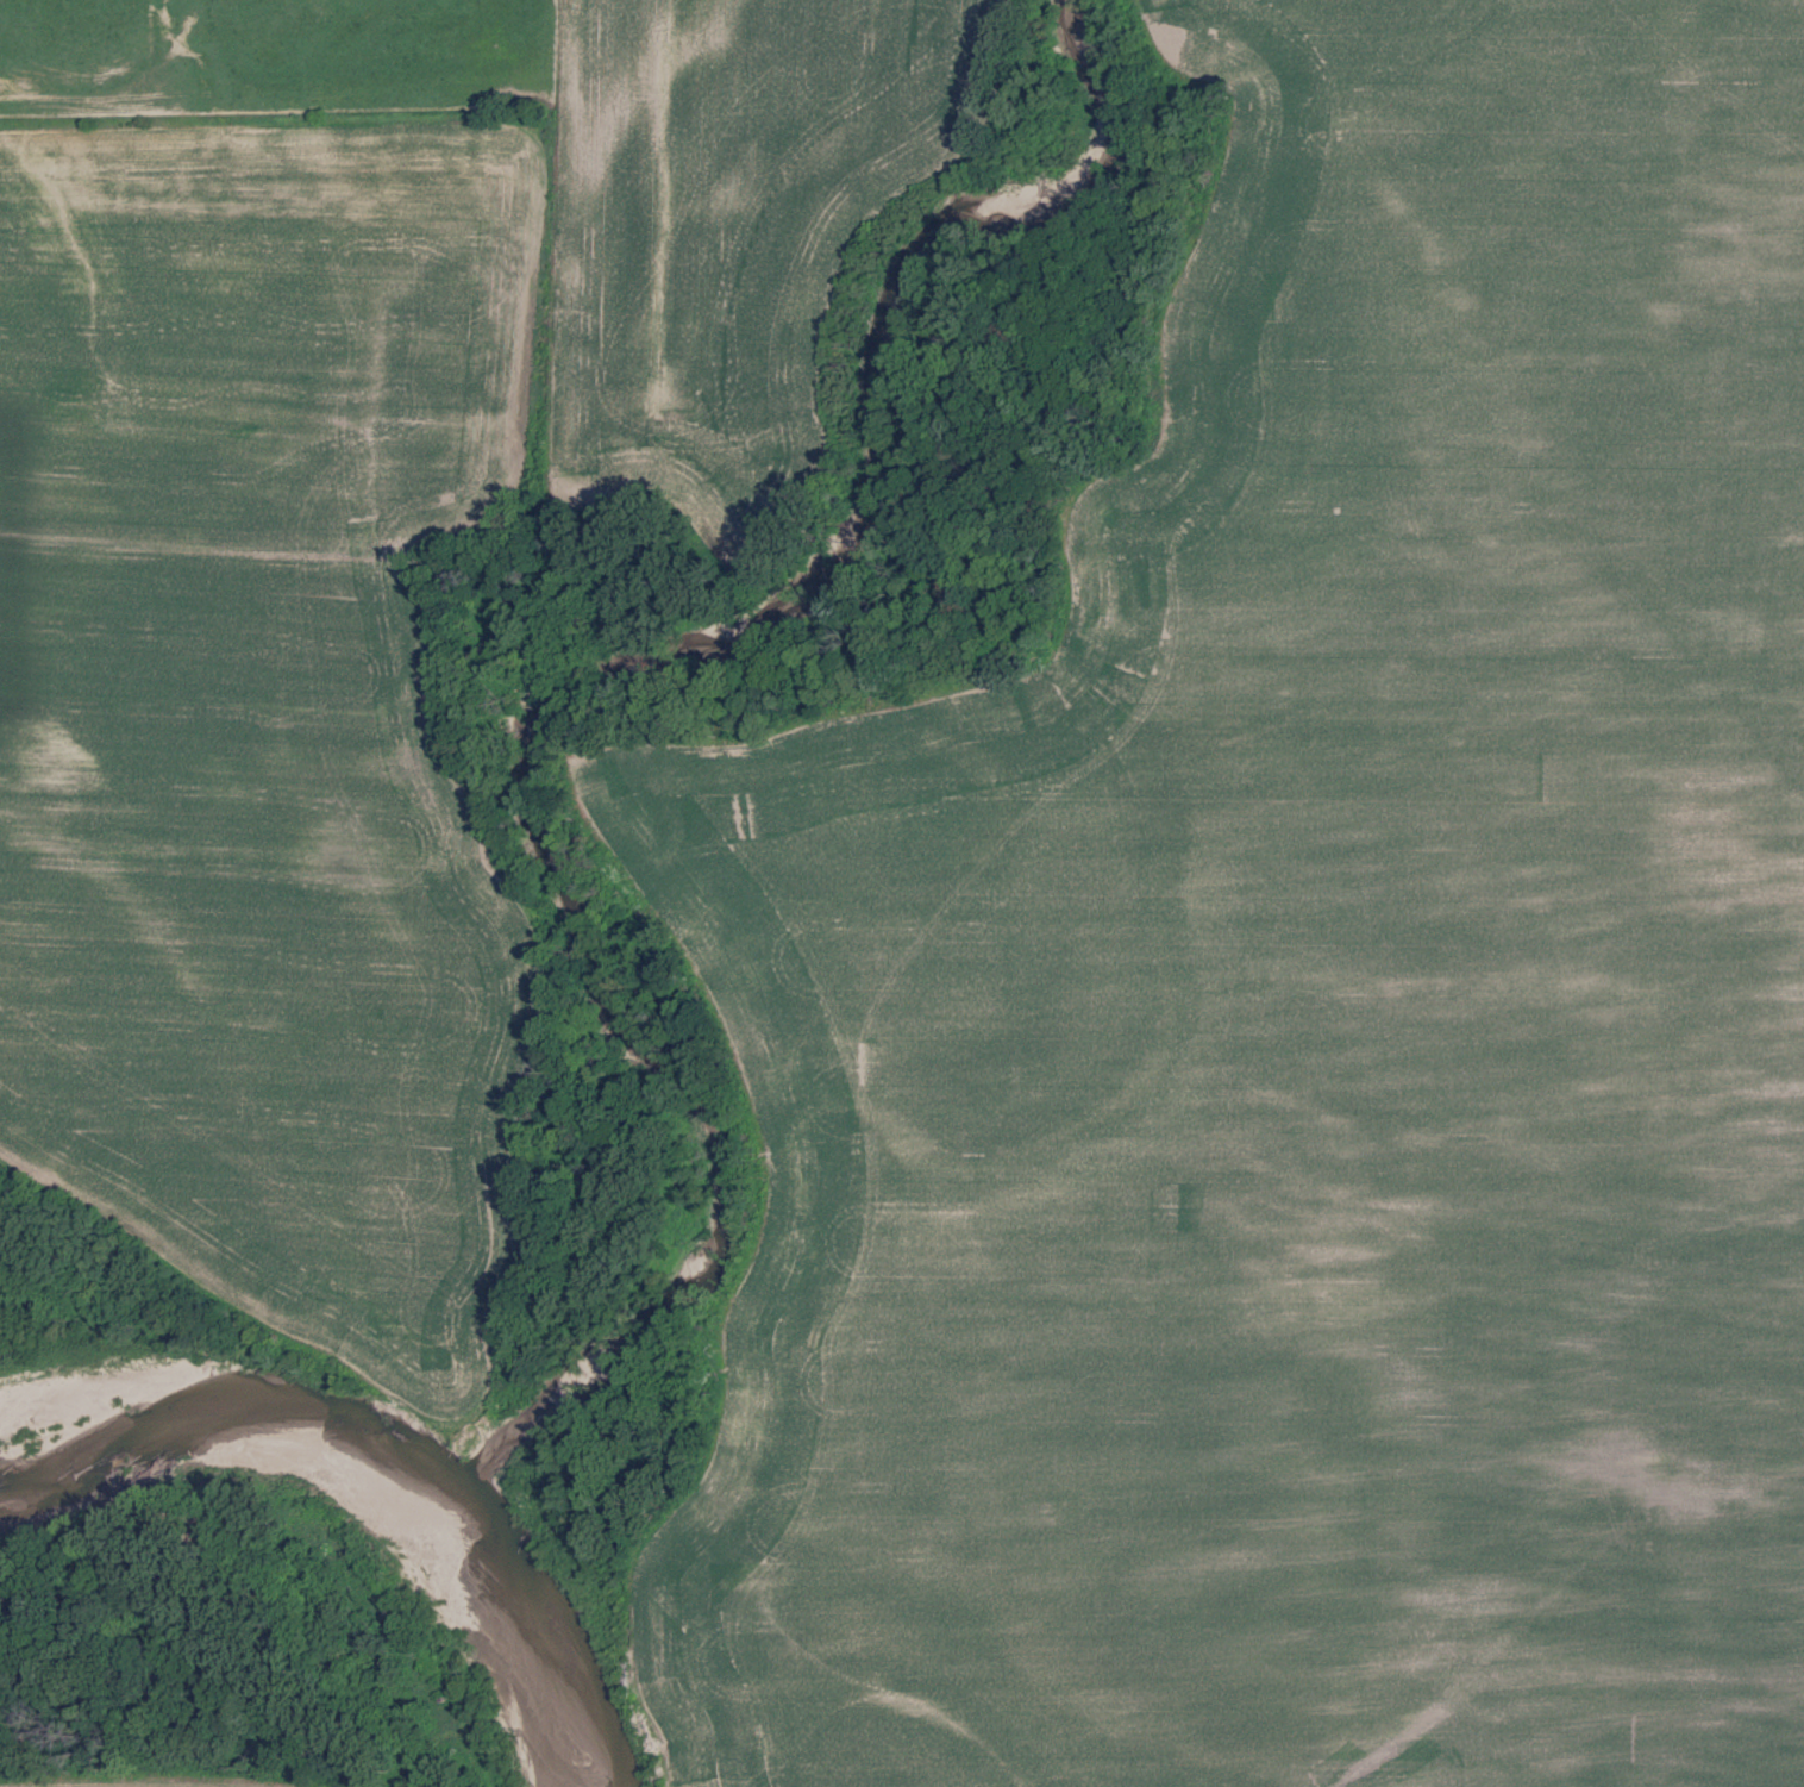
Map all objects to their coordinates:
river: (370, 1462)

